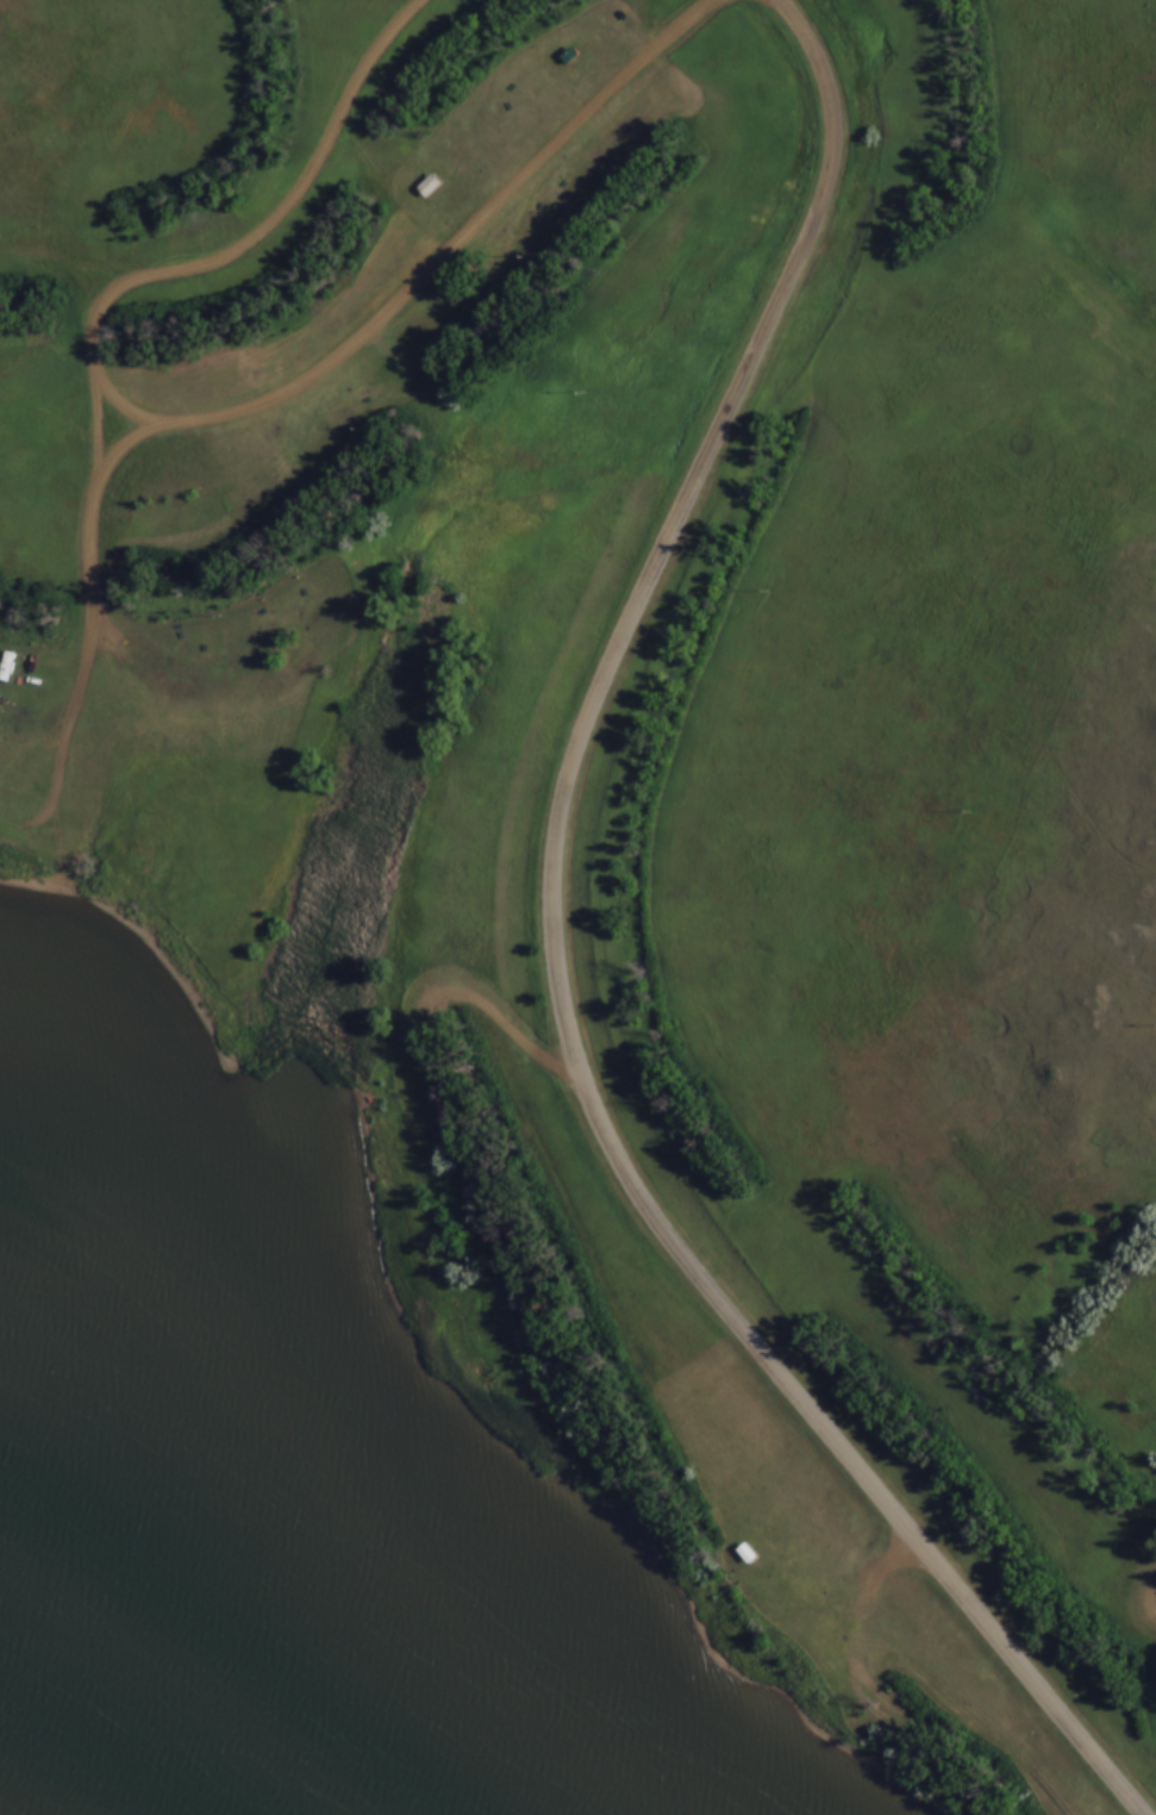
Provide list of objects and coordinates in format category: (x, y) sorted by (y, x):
building: (429, 185)
road: (26, 219)
road: (89, 260)
road: (206, 414)
road: (98, 420)
road: (967, 566)
road: (93, 604)
road: (563, 969)

